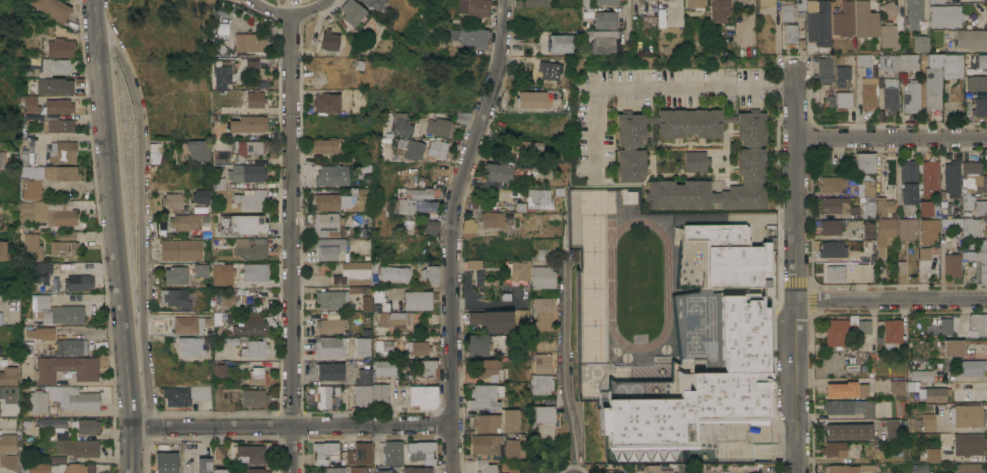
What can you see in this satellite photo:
building: (606, 2)
building: (766, 2)
building: (934, 2)
building: (537, 3)
building: (374, 4)
building: (694, 4)
building: (800, 4)
building: (478, 8)
building: (53, 9)
building: (586, 9)
building: (889, 9)
building: (718, 10)
road: (288, 11)
building: (351, 12)
building: (786, 13)
building: (914, 13)
road: (625, 14)
building: (945, 16)
building: (843, 19)
building: (605, 20)
building: (866, 20)
building: (818, 22)
building: (789, 35)
building: (889, 35)
building: (450, 36)
building: (474, 36)
building: (971, 38)
building: (329, 41)
building: (249, 42)
building: (599, 42)
building: (921, 43)
building: (561, 44)
building: (60, 48)
building: (864, 60)
building: (888, 62)
building: (908, 62)
building: (975, 64)
building: (952, 66)
building: (54, 67)
building: (549, 69)
building: (824, 70)
building: (842, 75)
building: (222, 77)
building: (932, 80)
building: (53, 86)
road: (651, 86)
building: (976, 86)
building: (868, 93)
building: (890, 94)
building: (912, 96)
building: (255, 99)
building: (535, 99)
building: (841, 101)
building: (326, 103)
building: (47, 106)
building: (980, 107)
building: (463, 117)
building: (387, 122)
building: (248, 124)
building: (59, 125)
building: (401, 125)
building: (440, 127)
road: (891, 139)
building: (383, 142)
building: (323, 146)
building: (437, 148)
building: (247, 149)
building: (198, 150)
building: (414, 150)
building: (527, 150)
building: (65, 152)
building: (155, 152)
building: (751, 155)
building: (221, 156)
building: (2, 159)
building: (695, 161)
building: (864, 163)
building: (52, 172)
building: (246, 173)
building: (497, 174)
building: (331, 175)
building: (952, 178)
building: (930, 179)
building: (908, 181)
building: (218, 183)
building: (832, 183)
building: (971, 183)
road: (78, 184)
road: (796, 184)
building: (867, 187)
building: (32, 189)
building: (201, 196)
building: (251, 199)
building: (538, 199)
building: (172, 200)
building: (326, 201)
building: (417, 202)
building: (835, 205)
building: (518, 207)
building: (884, 207)
building: (929, 208)
building: (981, 208)
building: (200, 210)
building: (905, 210)
building: (867, 211)
building: (46, 214)
road: (142, 216)
building: (495, 218)
building: (189, 221)
building: (327, 224)
building: (241, 225)
building: (832, 226)
building: (406, 227)
building: (430, 227)
building: (971, 227)
building: (907, 228)
building: (472, 229)
building: (867, 229)
building: (986, 229)
building: (929, 230)
road: (454, 233)
building: (884, 235)
building: (67, 236)
road: (115, 236)
road: (290, 242)
building: (31, 247)
building: (328, 247)
building: (64, 248)
building: (250, 248)
building: (832, 249)
building: (3, 250)
building: (181, 250)
building: (923, 253)
building: (934, 253)
building: (544, 254)
building: (732, 256)
building: (978, 260)
building: (472, 263)
building: (952, 264)
building: (70, 267)
building: (899, 267)
building: (374, 268)
building: (201, 270)
building: (255, 272)
building: (41, 273)
building: (353, 273)
building: (393, 273)
building: (532, 273)
building: (221, 274)
building: (832, 274)
building: (175, 275)
building: (429, 276)
building: (478, 277)
building: (78, 282)
building: (256, 292)
building: (506, 292)
building: (336, 297)
building: (175, 298)
building: (227, 298)
building: (415, 300)
road: (892, 300)
building: (365, 303)
building: (376, 307)
building: (57, 311)
building: (545, 311)
building: (232, 318)
building: (216, 319)
building: (390, 319)
building: (207, 321)
building: (491, 321)
building: (187, 325)
building: (330, 325)
building: (974, 325)
building: (251, 326)
building: (864, 326)
building: (943, 326)
building: (364, 331)
building: (837, 332)
building: (41, 333)
building: (892, 333)
building: (230, 341)
building: (478, 344)
building: (868, 344)
building: (190, 346)
building: (329, 346)
building: (362, 346)
building: (69, 347)
building: (384, 347)
building: (25, 348)
building: (255, 348)
building: (418, 348)
building: (952, 348)
building: (8, 360)
building: (543, 363)
road: (567, 364)
building: (384, 367)
building: (971, 367)
building: (66, 368)
building: (427, 368)
building: (489, 369)
building: (220, 370)
building: (330, 371)
building: (256, 375)
building: (921, 375)
building: (8, 376)
building: (364, 377)
building: (542, 383)
road: (798, 387)
building: (897, 388)
building: (841, 390)
building: (424, 394)
building: (934, 394)
building: (184, 395)
building: (326, 395)
building: (362, 395)
building: (379, 395)
building: (697, 396)
building: (914, 396)
building: (483, 397)
building: (74, 398)
building: (254, 398)
building: (38, 402)
building: (843, 406)
building: (868, 409)
building: (542, 413)
building: (966, 414)
building: (509, 420)
building: (51, 423)
building: (485, 423)
building: (932, 423)
building: (87, 426)
road: (293, 427)
building: (892, 429)
building: (847, 431)
building: (482, 445)
building: (969, 445)
building: (76, 446)
building: (512, 447)
building: (835, 449)
building: (324, 451)
building: (8, 452)
building: (220, 452)
building: (392, 452)
building: (419, 452)
building: (250, 454)
building: (359, 454)
building: (932, 454)
building: (375, 458)
building: (56, 459)
building: (165, 462)
building: (203, 465)
building: (485, 465)
building: (35, 468)
building: (73, 468)
building: (847, 468)
building: (919, 468)
building: (968, 468)
building: (344, 469)
building: (417, 469)
building: (653, 469)
building: (255, 470)
building: (379, 470)
building: (502, 470)
building: (219, 471)
building: (612, 471)

